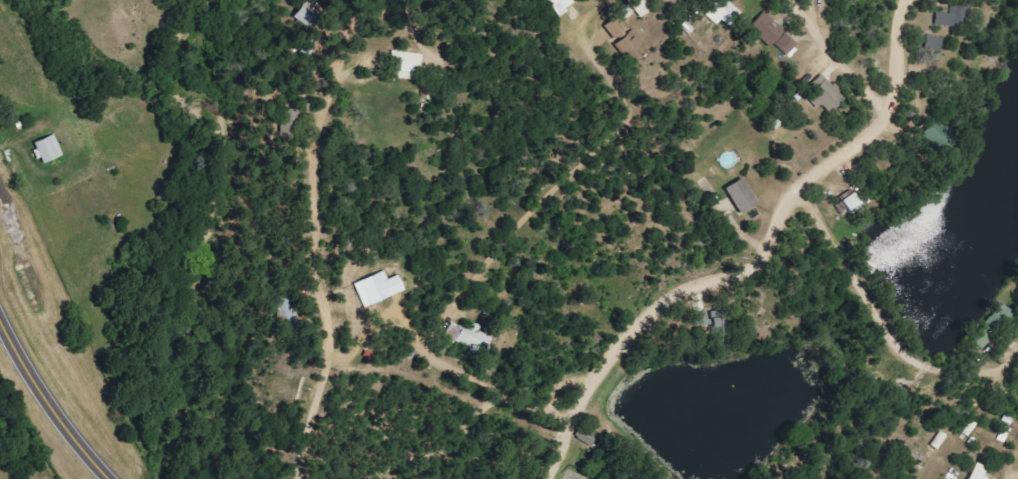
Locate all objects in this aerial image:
building: (564, 4)
road: (838, 54)
building: (828, 97)
building: (53, 148)
building: (746, 195)
road: (313, 220)
road: (513, 243)
road: (749, 259)
road: (858, 279)
building: (383, 287)
road: (975, 367)
road: (49, 400)
road: (903, 421)
road: (459, 444)
building: (983, 471)

